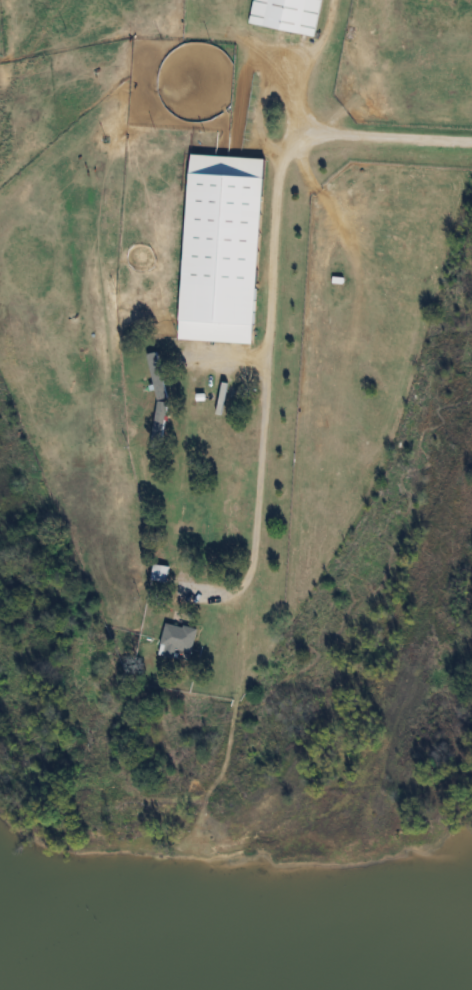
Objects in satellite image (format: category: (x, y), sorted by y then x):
building: (287, 15)
building: (223, 248)
road: (270, 302)
building: (158, 401)
building: (160, 573)
building: (179, 636)

